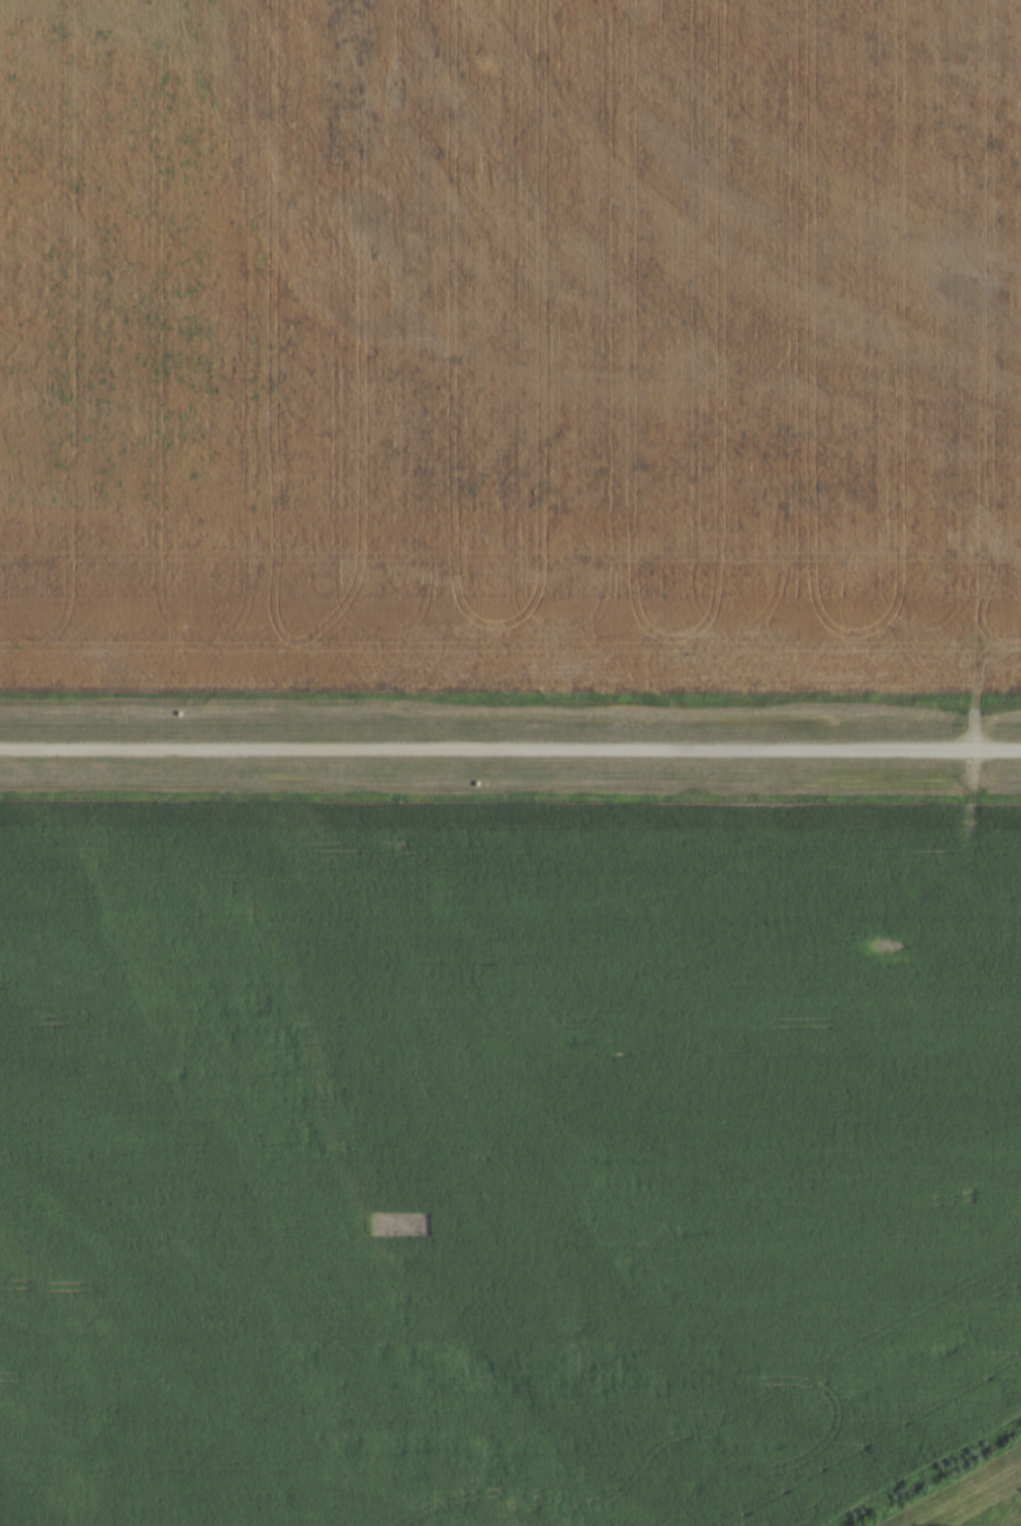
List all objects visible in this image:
road: (510, 745)

